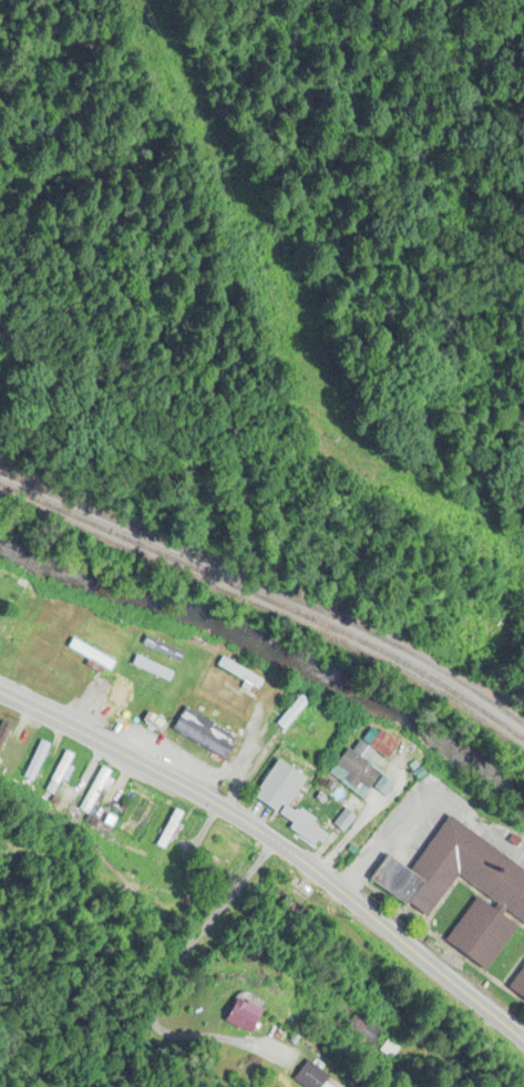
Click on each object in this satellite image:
railway: (271, 586)
building: (45, 601)
building: (112, 624)
building: (474, 635)
building: (162, 644)
building: (92, 652)
river: (271, 653)
building: (153, 667)
building: (243, 673)
building: (62, 681)
building: (122, 693)
building: (288, 708)
building: (3, 732)
building: (205, 734)
building: (12, 757)
building: (35, 761)
building: (364, 761)
building: (59, 771)
building: (95, 787)
road: (61, 798)
road: (425, 803)
building: (166, 829)
road: (275, 843)
building: (419, 891)
building: (284, 905)
road: (161, 982)
building: (518, 985)
building: (246, 1014)
building: (362, 1030)
building: (310, 1075)

